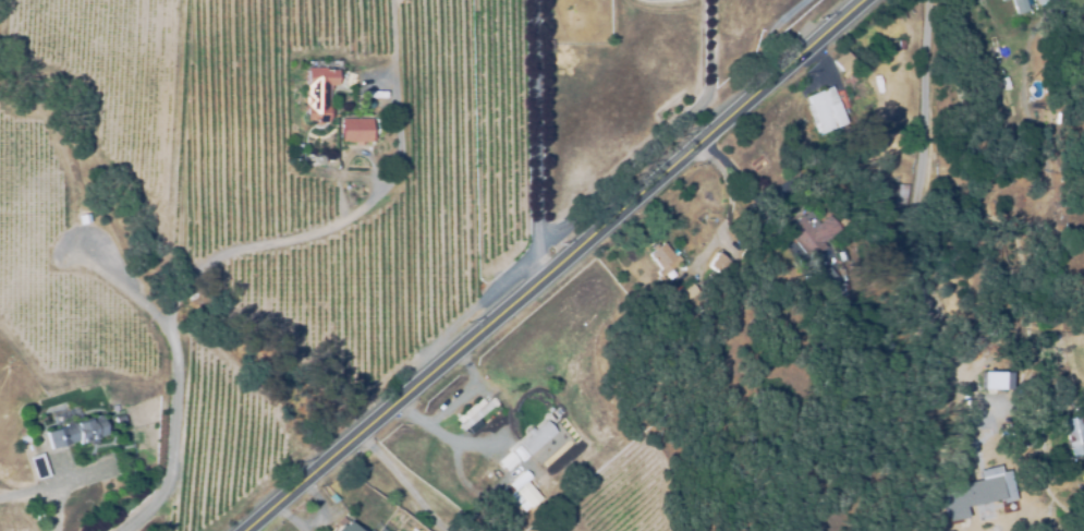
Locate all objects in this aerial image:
building: (1000, 0)
building: (1045, 1)
building: (1022, 5)
road: (767, 32)
building: (841, 61)
building: (366, 68)
building: (320, 89)
building: (374, 92)
building: (365, 102)
building: (827, 109)
building: (357, 128)
road: (535, 132)
building: (318, 157)
road: (924, 200)
building: (905, 201)
building: (816, 232)
road: (246, 246)
building: (665, 257)
building: (722, 262)
road: (538, 263)
building: (836, 281)
building: (685, 291)
building: (995, 381)
building: (114, 405)
building: (476, 412)
building: (119, 419)
building: (75, 432)
building: (535, 436)
building: (1075, 436)
building: (23, 437)
building: (516, 452)
building: (507, 461)
building: (38, 467)
building: (489, 476)
road: (401, 481)
building: (517, 481)
road: (59, 484)
building: (526, 494)
building: (348, 528)

